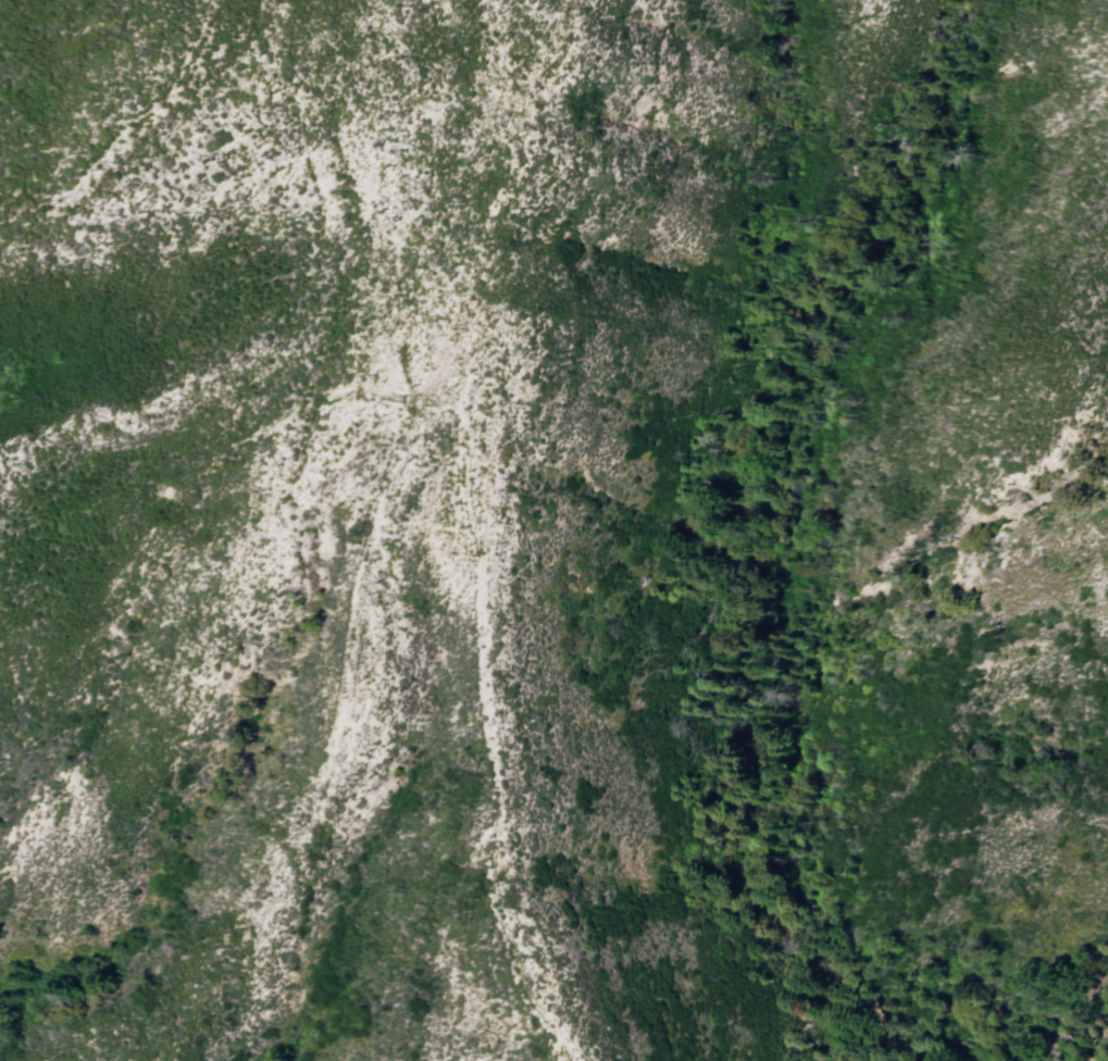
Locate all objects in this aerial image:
road: (140, 134)
road: (477, 535)

